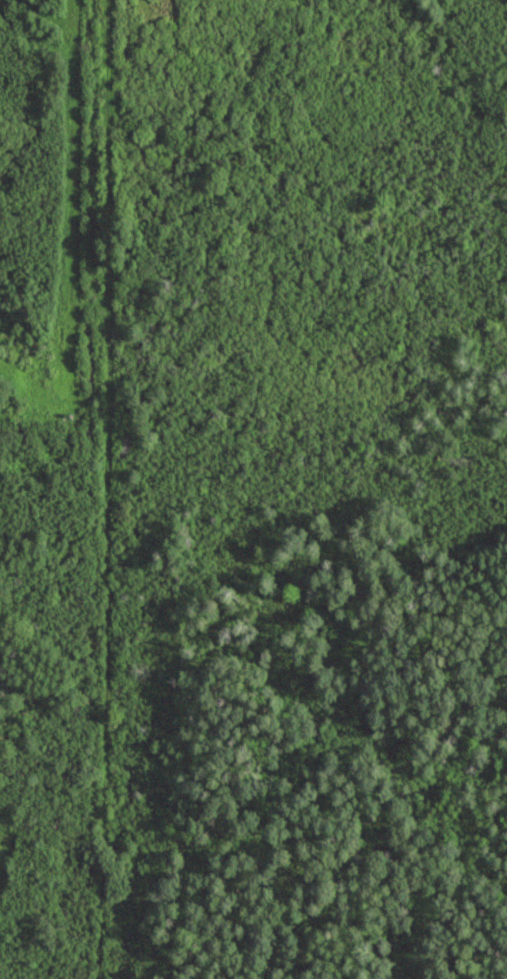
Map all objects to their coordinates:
road: (105, 489)

